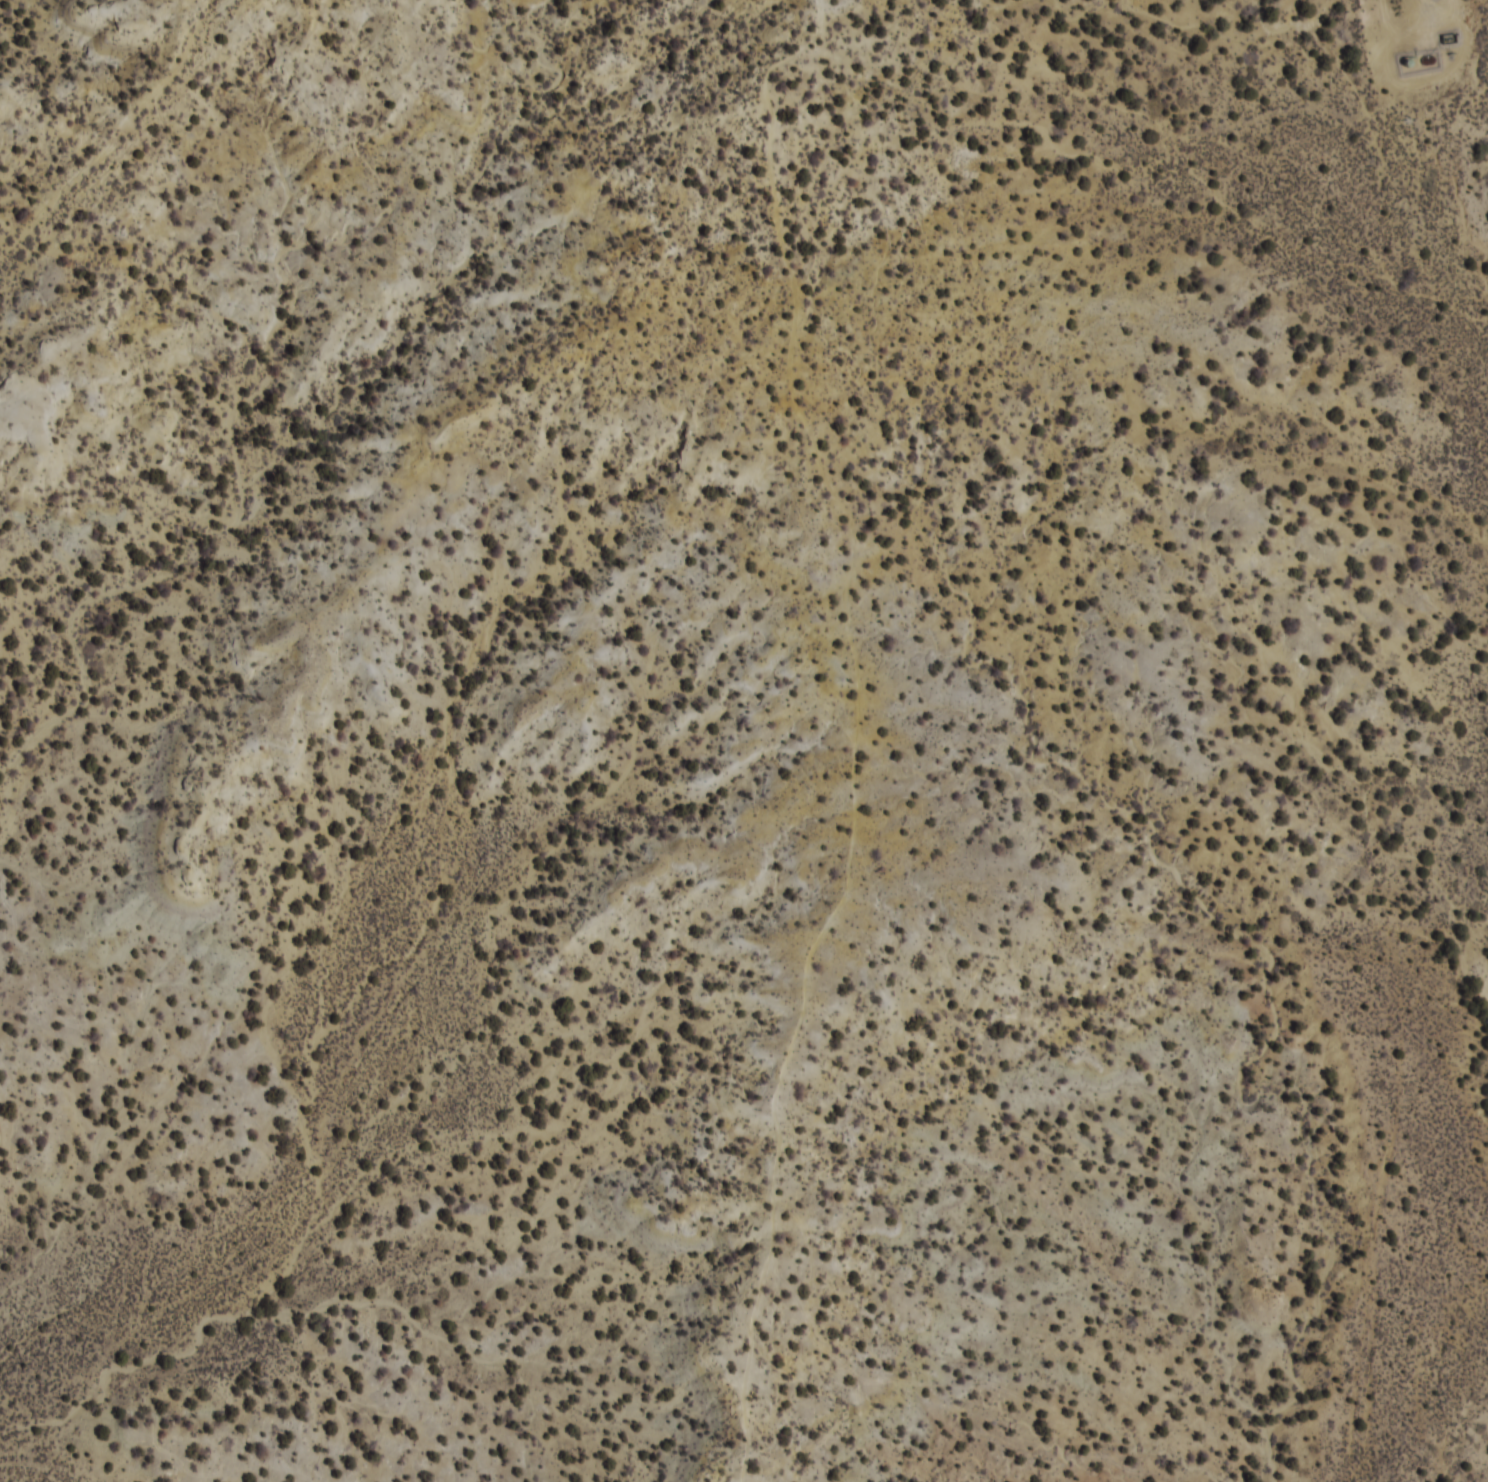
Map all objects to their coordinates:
road: (1428, 8)

